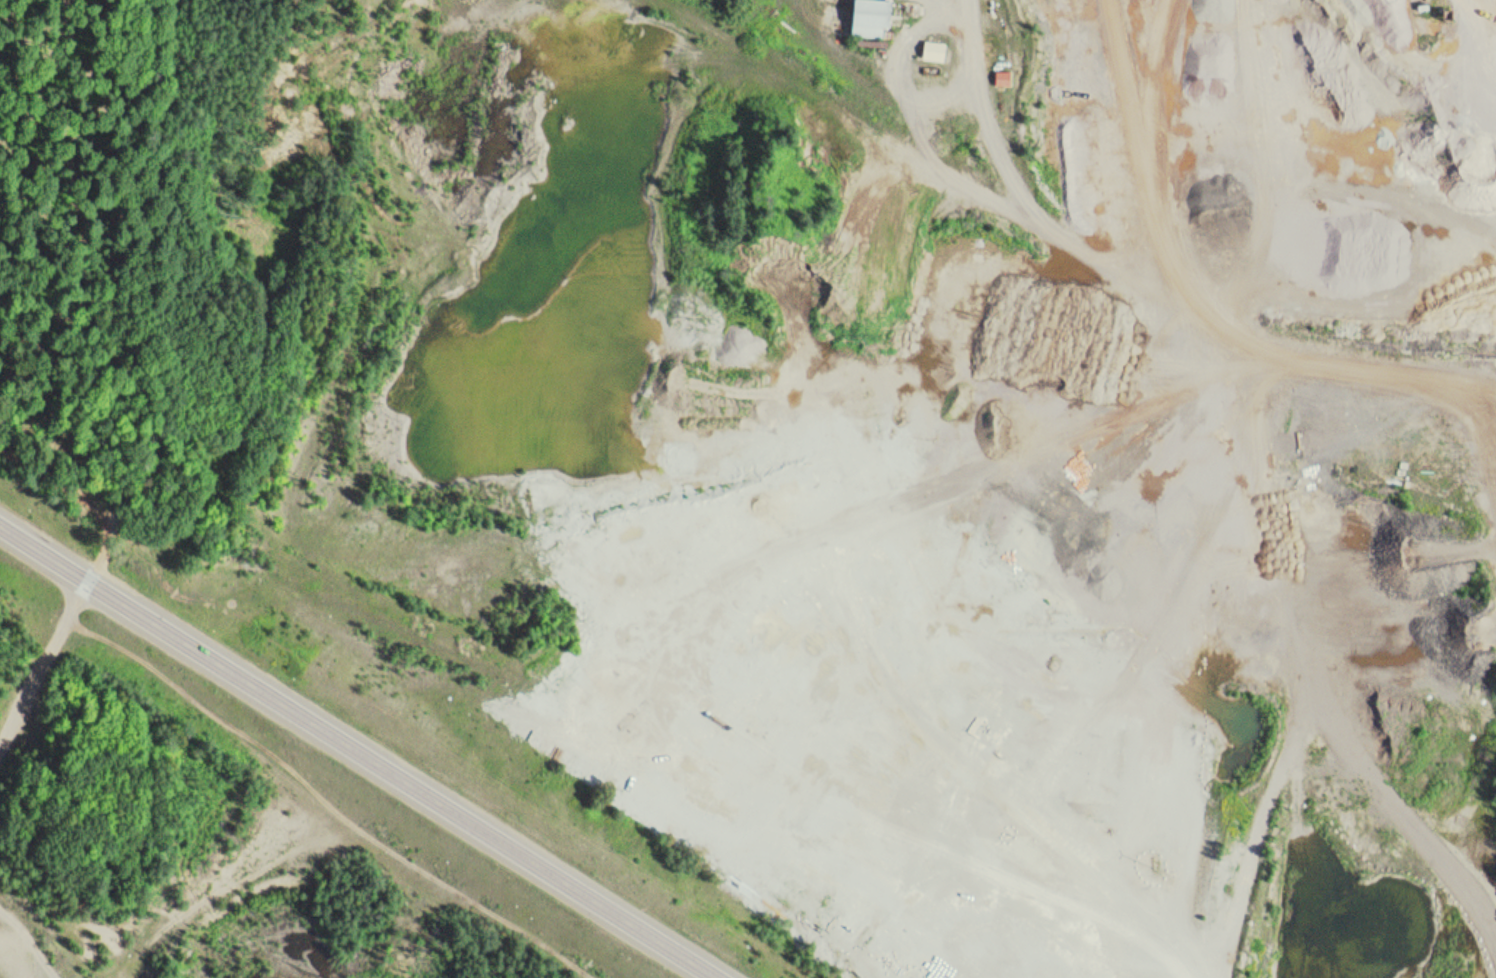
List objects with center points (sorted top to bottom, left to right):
building: (864, 18)
building: (932, 51)
road: (1206, 95)
road: (1360, 233)
road: (1204, 291)
road: (1493, 378)
road: (45, 550)
road: (45, 688)
road: (399, 778)

